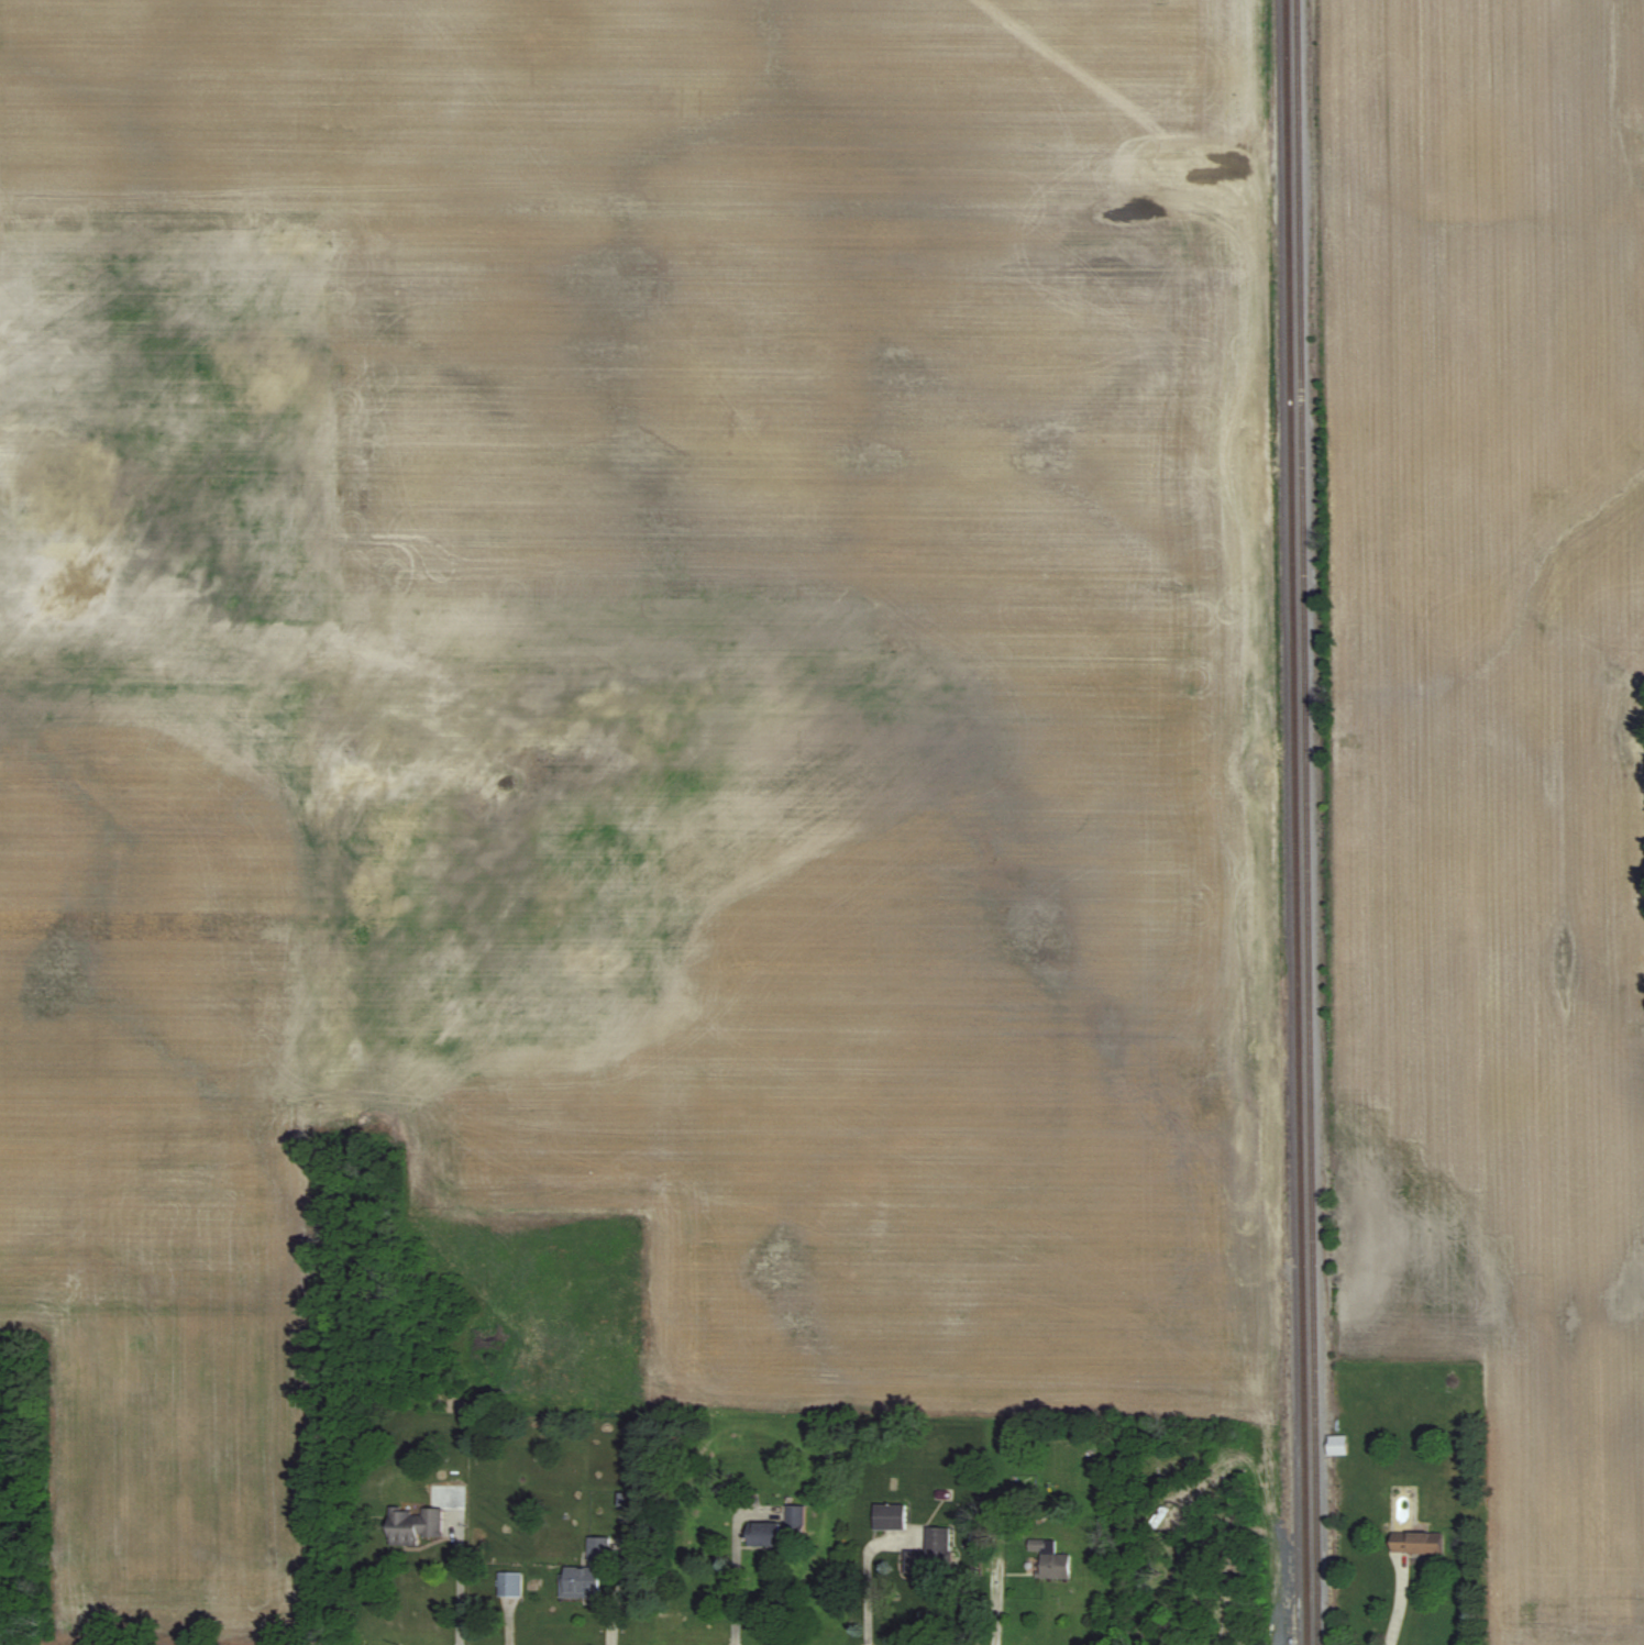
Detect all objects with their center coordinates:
railway: (1297, 822)
railway: (1308, 822)
building: (1336, 1444)
building: (890, 1517)
building: (413, 1524)
building: (779, 1528)
building: (1416, 1544)
building: (931, 1556)
building: (1052, 1559)
road: (737, 1564)
building: (586, 1572)
road: (867, 1577)
road: (460, 1582)
building: (510, 1583)
road: (1398, 1599)

